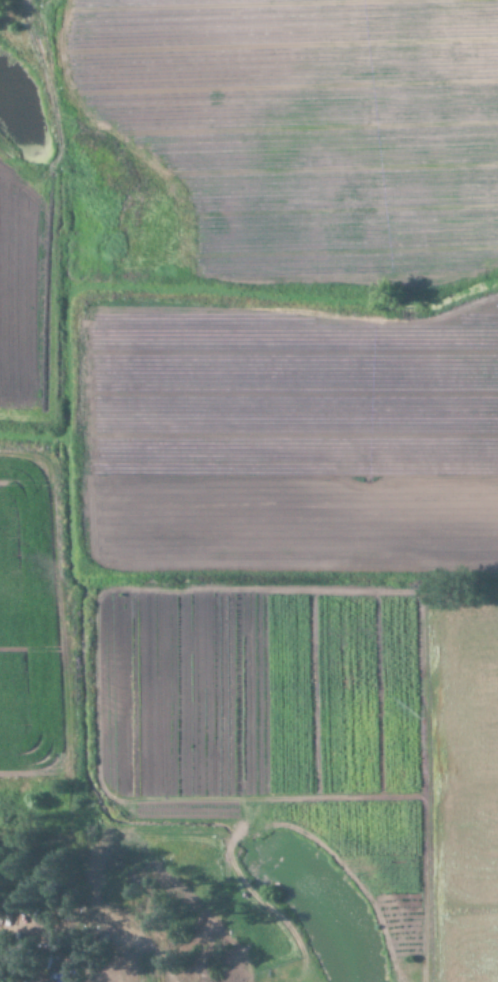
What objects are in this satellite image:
crop: (261, 425)

